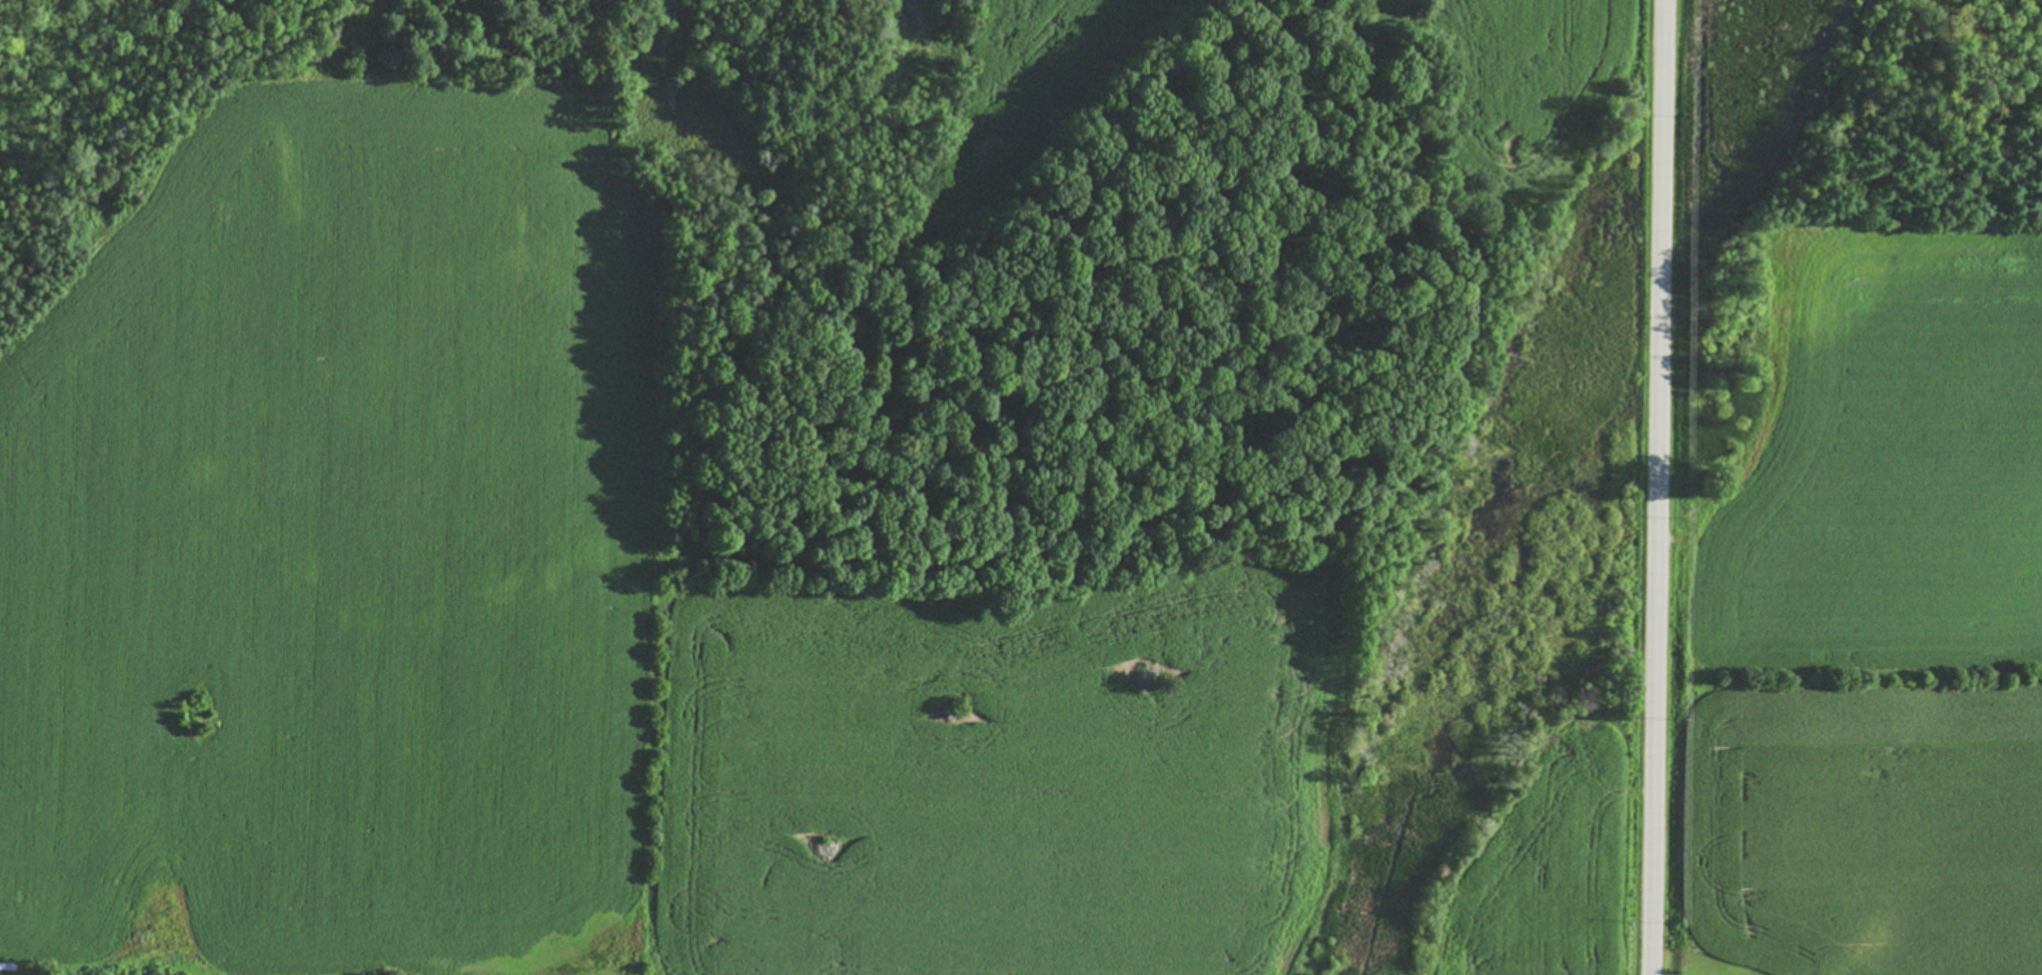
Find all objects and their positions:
road: (1657, 487)

